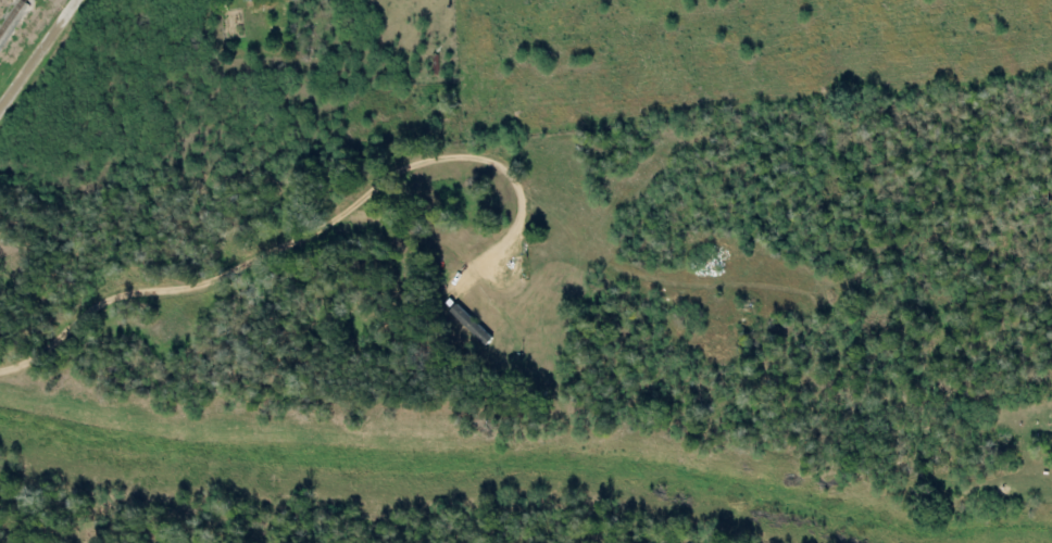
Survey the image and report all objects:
building: (249, 1)
railway: (10, 14)
road: (40, 55)
building: (472, 326)

